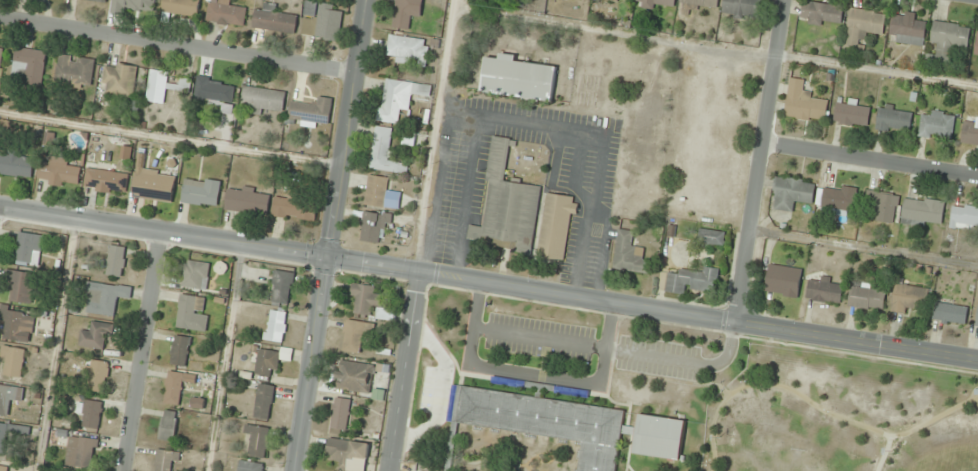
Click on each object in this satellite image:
building: (626, 0)
building: (98, 1)
building: (655, 4)
building: (136, 5)
building: (693, 5)
building: (182, 7)
building: (740, 9)
building: (225, 13)
building: (819, 13)
building: (401, 14)
building: (274, 20)
building: (322, 21)
building: (861, 25)
building: (906, 28)
building: (946, 39)
building: (976, 43)
road: (177, 44)
building: (406, 49)
road: (714, 51)
building: (1, 55)
building: (29, 66)
building: (74, 72)
building: (515, 77)
building: (119, 79)
building: (163, 86)
building: (216, 91)
building: (398, 98)
building: (263, 99)
building: (801, 102)
building: (311, 113)
building: (850, 113)
building: (892, 118)
building: (934, 124)
building: (969, 131)
road: (432, 136)
road: (171, 139)
building: (381, 151)
road: (869, 158)
road: (758, 161)
building: (16, 164)
building: (60, 172)
building: (106, 181)
building: (154, 185)
building: (201, 192)
building: (789, 192)
building: (379, 193)
building: (836, 199)
building: (247, 201)
building: (507, 201)
building: (879, 206)
building: (294, 209)
building: (920, 211)
building: (963, 216)
building: (554, 225)
building: (370, 226)
road: (165, 231)
road: (333, 235)
building: (711, 237)
road: (863, 247)
building: (29, 249)
building: (627, 253)
traffic signals: (330, 259)
building: (116, 261)
building: (196, 275)
building: (690, 279)
building: (782, 280)
building: (22, 287)
building: (281, 288)
building: (822, 288)
building: (865, 295)
building: (104, 298)
building: (363, 298)
building: (907, 298)
road: (653, 311)
building: (193, 313)
building: (948, 313)
building: (976, 315)
building: (17, 324)
building: (276, 326)
building: (353, 335)
building: (97, 336)
road: (55, 345)
building: (180, 350)
road: (619, 350)
road: (146, 351)
road: (223, 357)
building: (270, 360)
building: (13, 361)
road: (407, 373)
building: (96, 376)
building: (352, 376)
road: (534, 376)
road: (768, 383)
building: (174, 388)
road: (443, 392)
building: (8, 398)
building: (264, 402)
building: (339, 413)
building: (90, 414)
park: (839, 416)
road: (936, 416)
building: (547, 422)
building: (168, 426)
building: (11, 434)
road: (887, 434)
building: (657, 436)
building: (258, 440)
building: (82, 452)
road: (883, 453)
building: (346, 454)
building: (167, 461)
building: (251, 466)
building: (3, 468)

